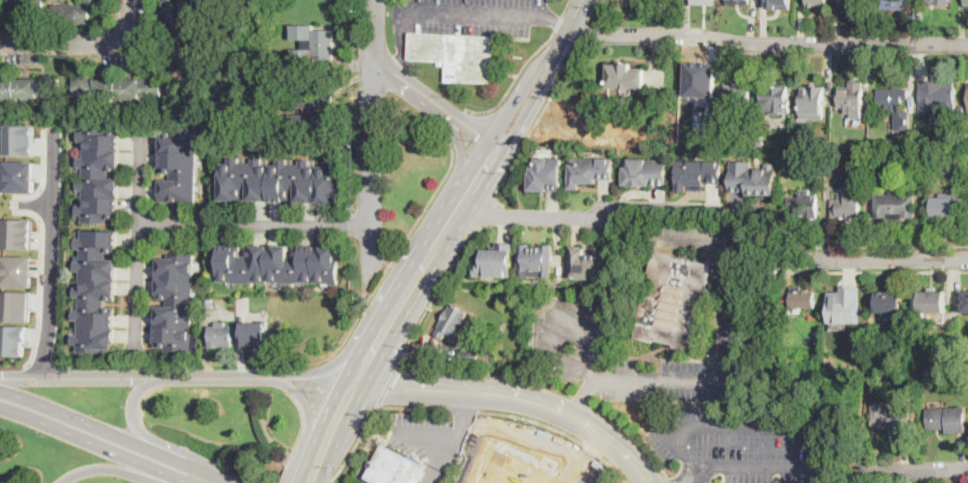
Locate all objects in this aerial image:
building: (712, 0)
building: (739, 1)
building: (12, 2)
building: (936, 2)
building: (966, 2)
building: (630, 3)
building: (779, 3)
building: (819, 3)
building: (853, 3)
building: (895, 4)
road: (564, 8)
road: (591, 10)
building: (76, 11)
road: (473, 11)
building: (172, 13)
parking lot: (468, 15)
road: (574, 16)
road: (558, 22)
road: (556, 23)
road: (583, 33)
road: (401, 41)
road: (767, 43)
building: (311, 44)
road: (87, 45)
building: (456, 53)
building: (625, 76)
building: (700, 78)
road: (514, 79)
road: (411, 86)
building: (24, 87)
building: (117, 87)
building: (737, 96)
building: (775, 96)
building: (937, 97)
building: (852, 99)
building: (812, 101)
building: (967, 101)
building: (895, 106)
building: (310, 110)
road: (532, 127)
building: (683, 137)
building: (20, 139)
building: (760, 142)
building: (827, 143)
road: (370, 154)
building: (805, 156)
building: (179, 165)
building: (854, 165)
building: (944, 166)
building: (590, 170)
building: (646, 171)
building: (99, 173)
building: (697, 174)
building: (546, 175)
building: (19, 176)
building: (753, 178)
building: (280, 181)
building: (804, 205)
building: (895, 205)
building: (945, 207)
building: (845, 208)
road: (487, 214)
road: (597, 216)
road: (256, 225)
building: (17, 233)
road: (140, 243)
road: (879, 245)
road: (432, 249)
road: (50, 252)
road: (394, 255)
building: (496, 260)
building: (535, 260)
road: (879, 260)
building: (587, 263)
building: (279, 264)
building: (16, 271)
road: (879, 271)
building: (96, 290)
road: (437, 290)
building: (802, 299)
building: (675, 301)
building: (965, 301)
building: (210, 302)
building: (889, 302)
building: (932, 303)
building: (175, 304)
building: (843, 304)
building: (16, 306)
building: (453, 322)
parking lot: (571, 332)
building: (254, 334)
building: (221, 335)
building: (13, 339)
road: (726, 348)
building: (477, 354)
road: (590, 365)
road: (328, 367)
road: (488, 370)
road: (80, 376)
road: (213, 377)
building: (870, 383)
road: (387, 385)
road: (514, 396)
road: (582, 398)
road: (584, 398)
road: (303, 401)
road: (414, 406)
road: (464, 410)
building: (892, 416)
building: (947, 419)
road: (459, 421)
road: (801, 426)
road: (137, 428)
road: (110, 431)
road: (300, 431)
road: (561, 431)
road: (631, 435)
parking lot: (433, 441)
parking lot: (746, 443)
road: (354, 444)
road: (104, 446)
road: (439, 446)
building: (511, 467)
building: (397, 468)
road: (921, 469)
road: (124, 471)
road: (286, 474)
road: (700, 476)
road: (310, 479)
road: (669, 479)
road: (698, 481)
road: (329, 482)

